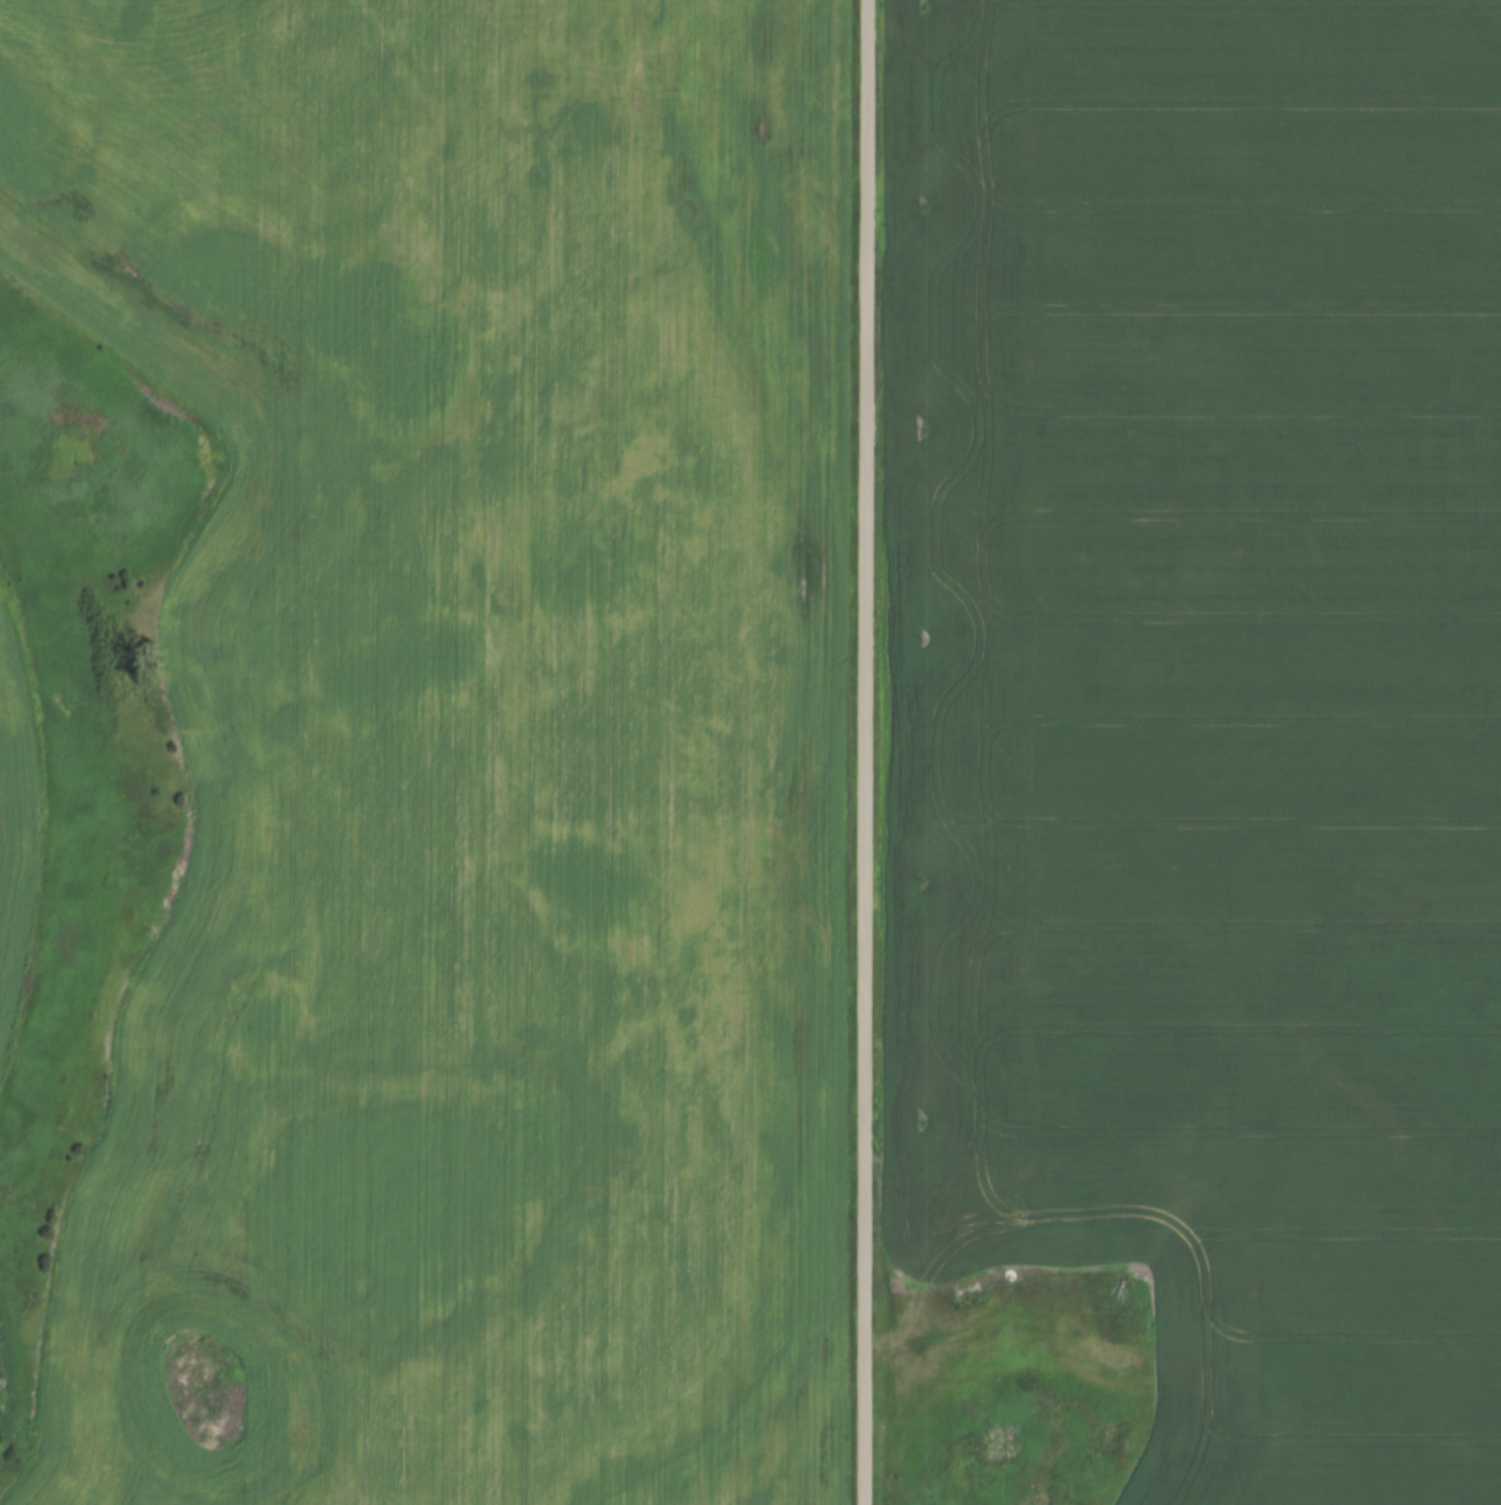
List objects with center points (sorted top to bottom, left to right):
road: (863, 752)
road: (969, 1309)

